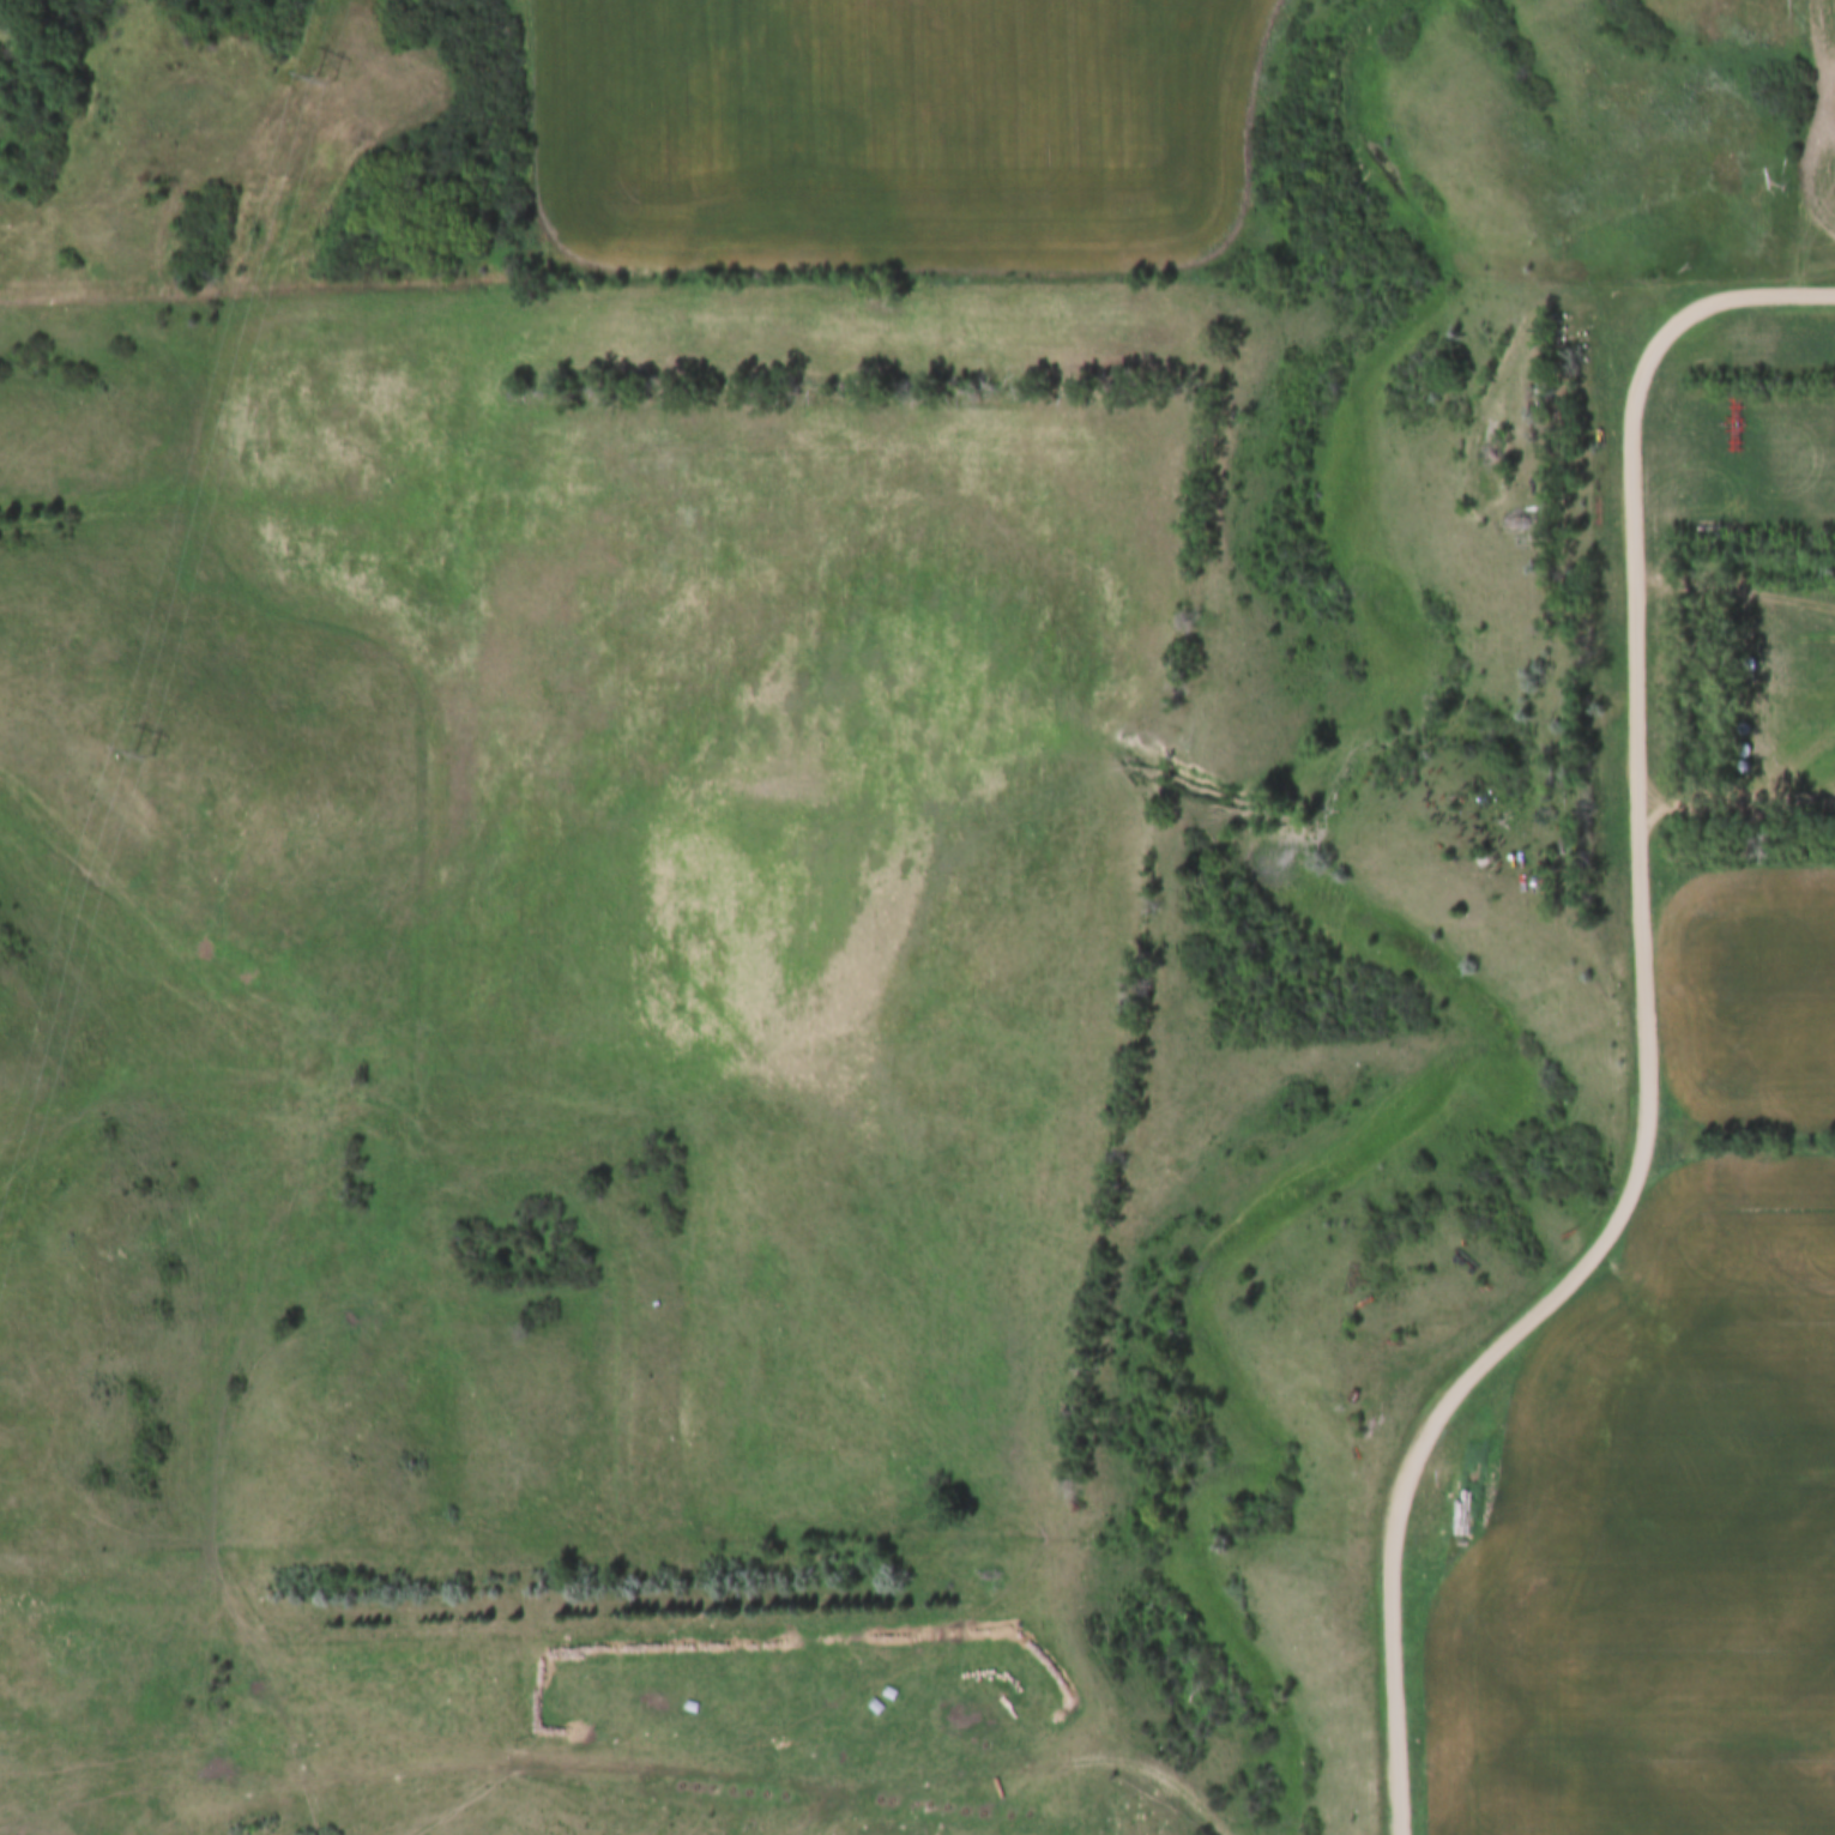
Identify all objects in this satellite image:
power tower: (330, 78)
power tower: (152, 754)
road: (1738, 798)
road: (1652, 1036)
road: (1173, 1786)

